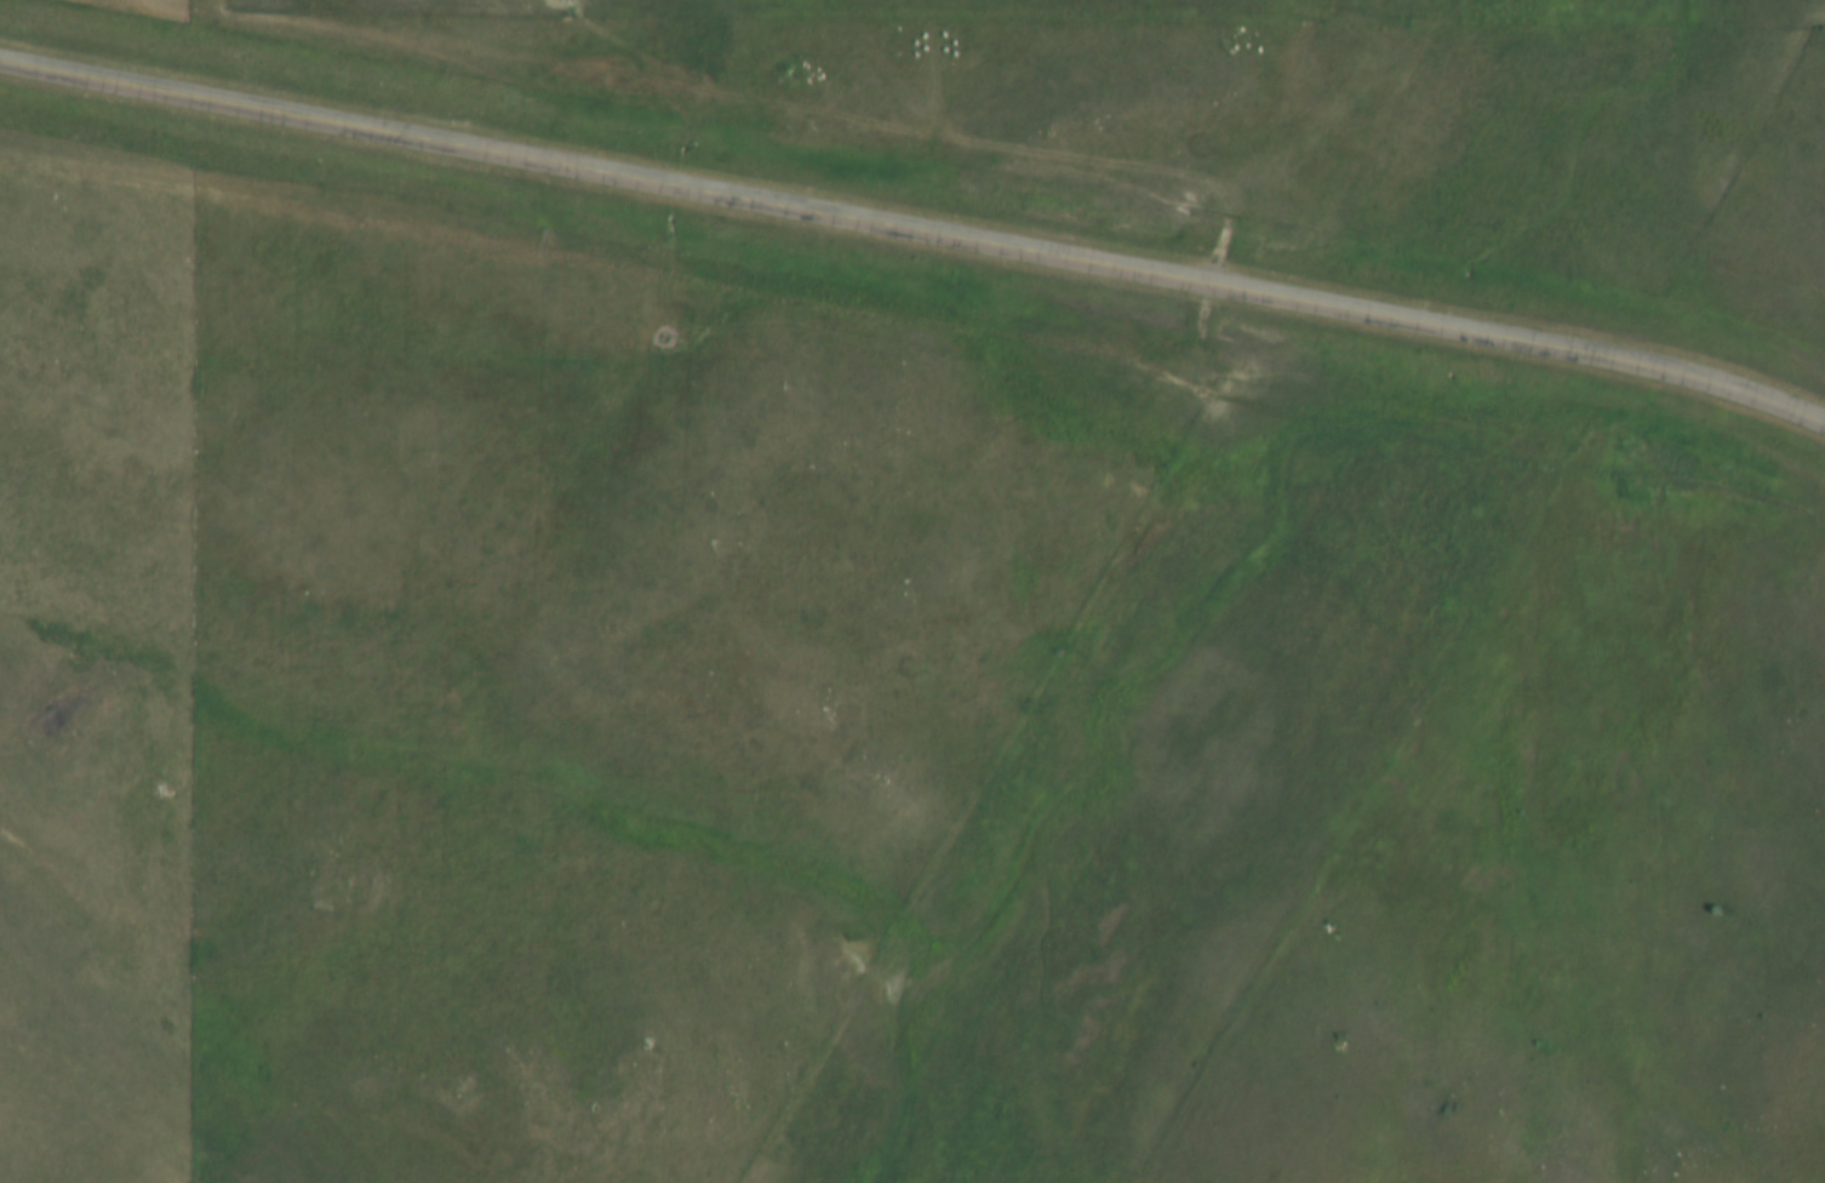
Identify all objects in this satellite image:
road: (915, 234)

